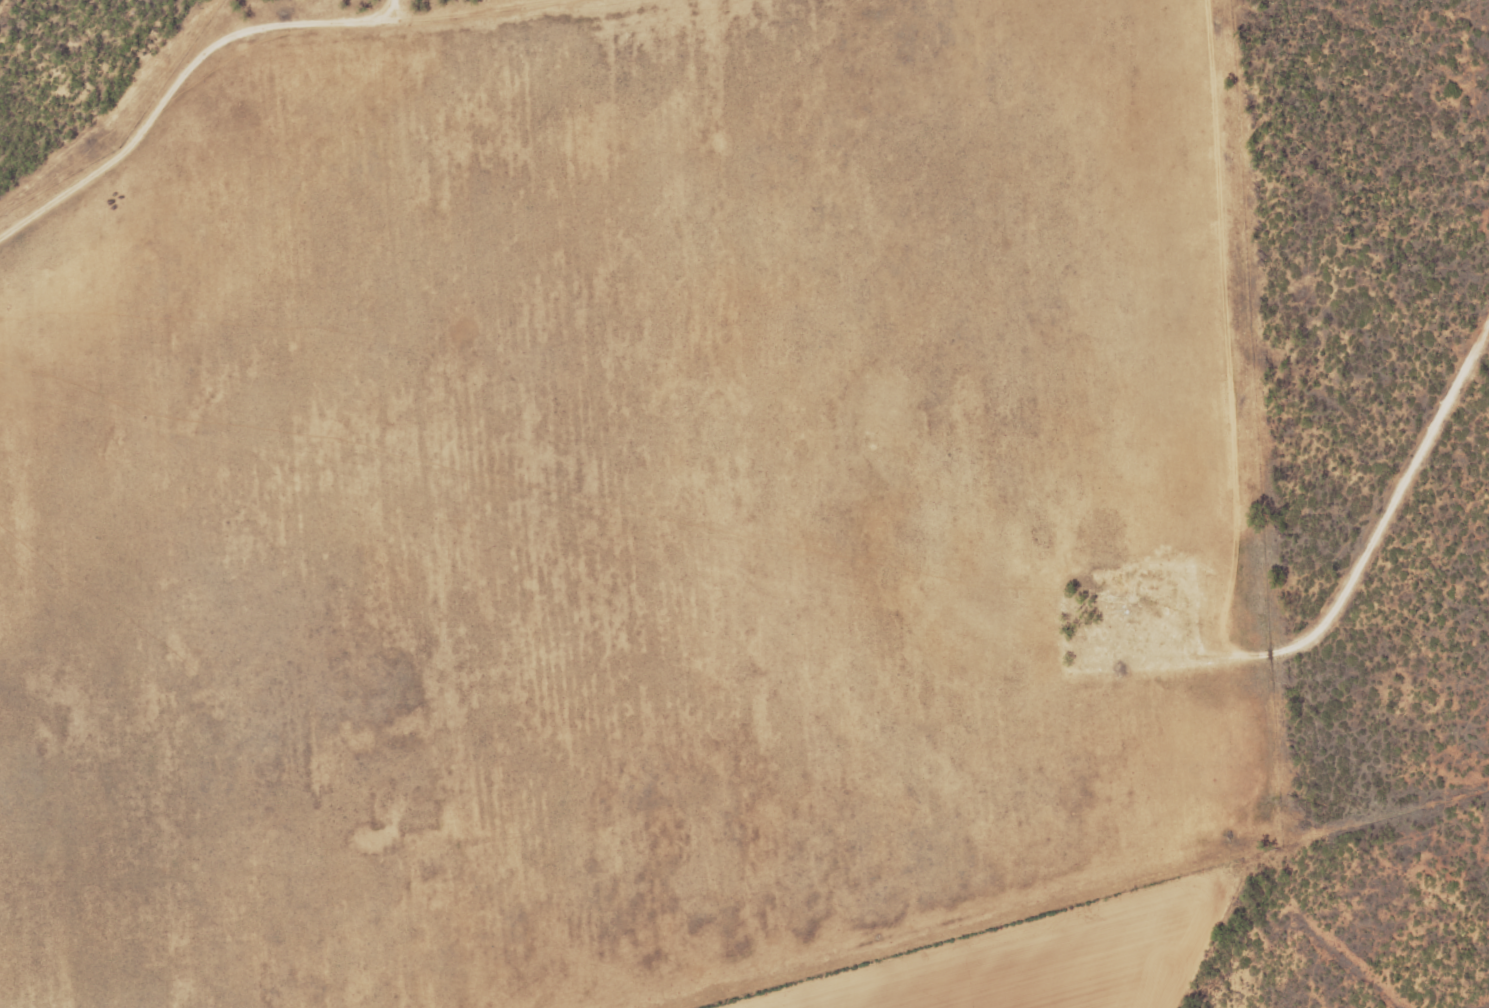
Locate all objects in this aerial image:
road: (178, 81)
road: (1373, 544)

